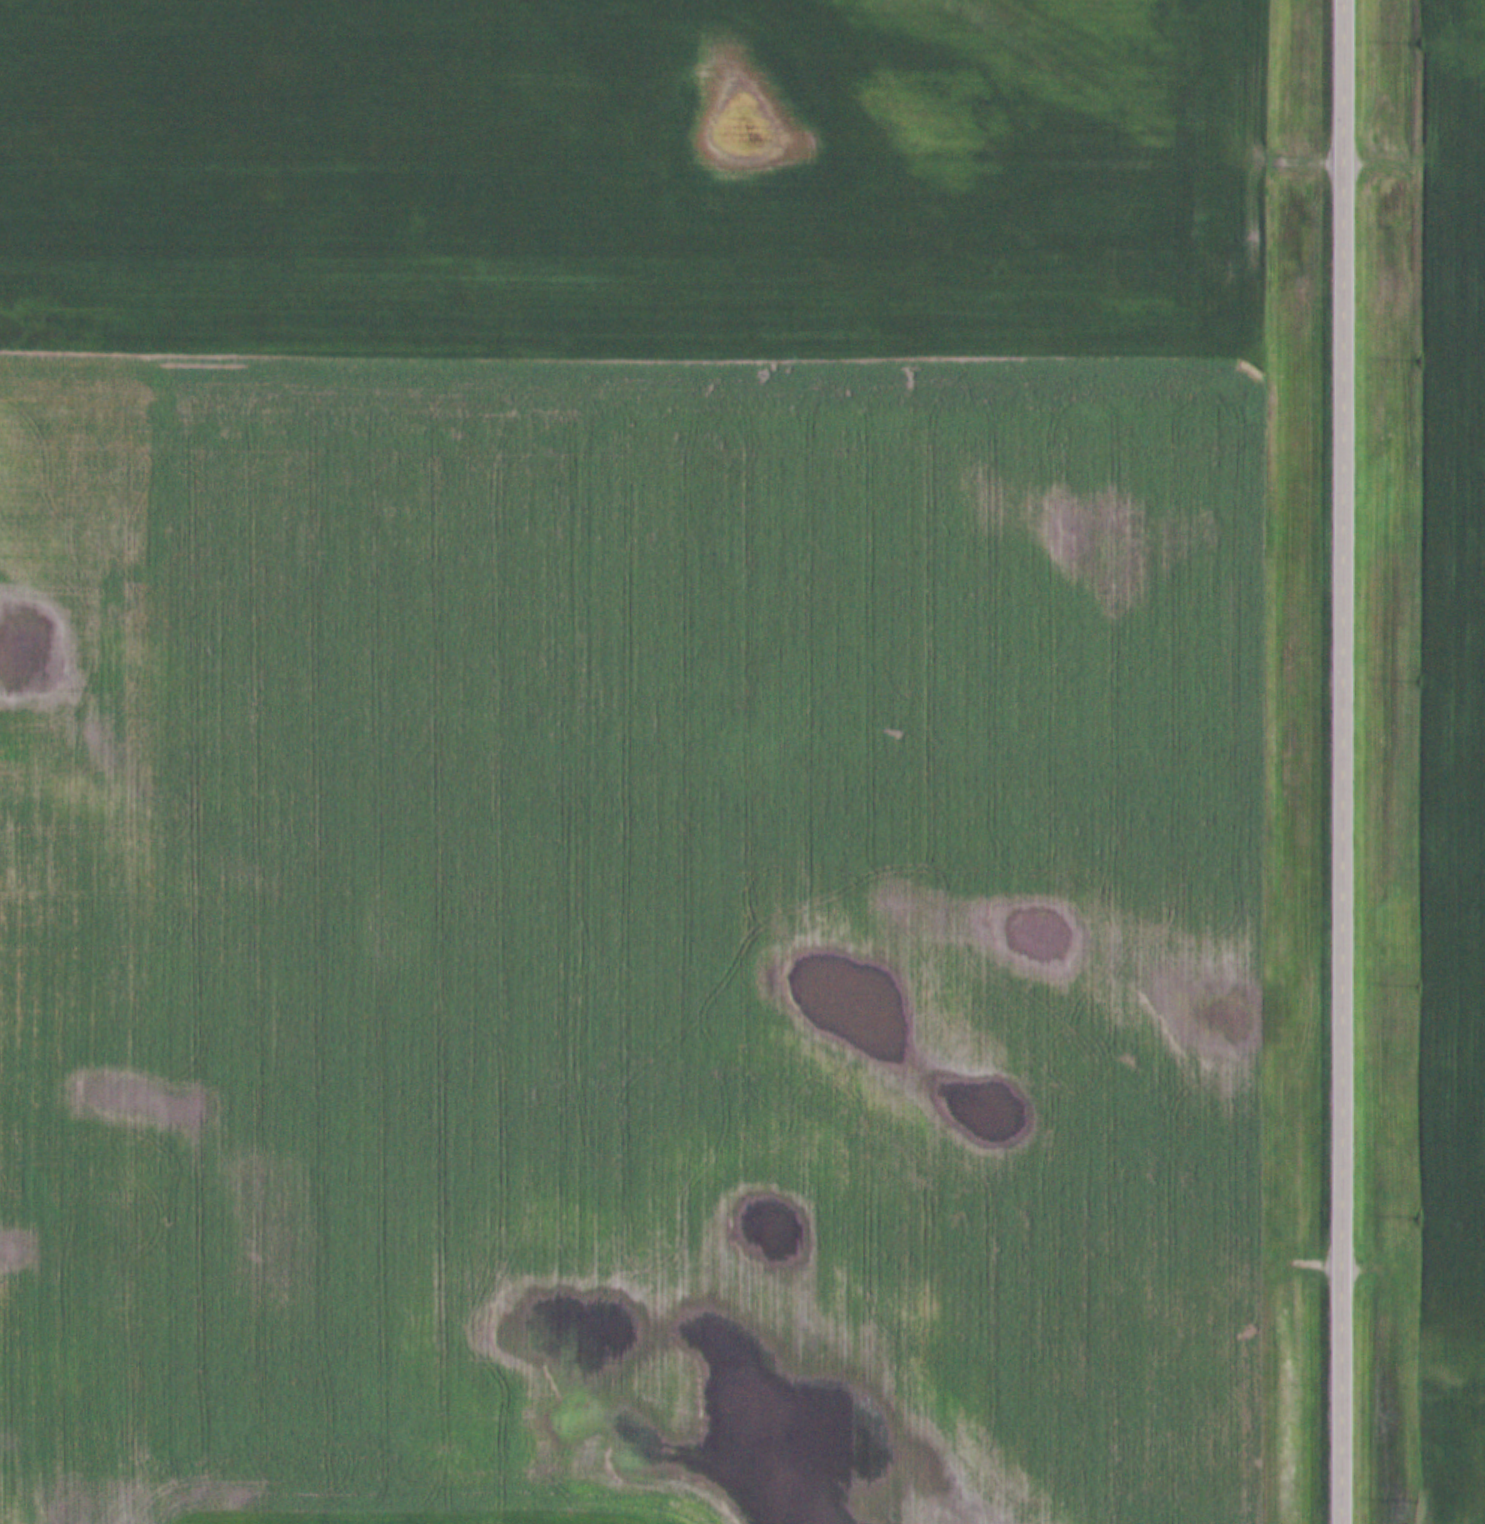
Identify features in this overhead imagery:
road: (1343, 762)

